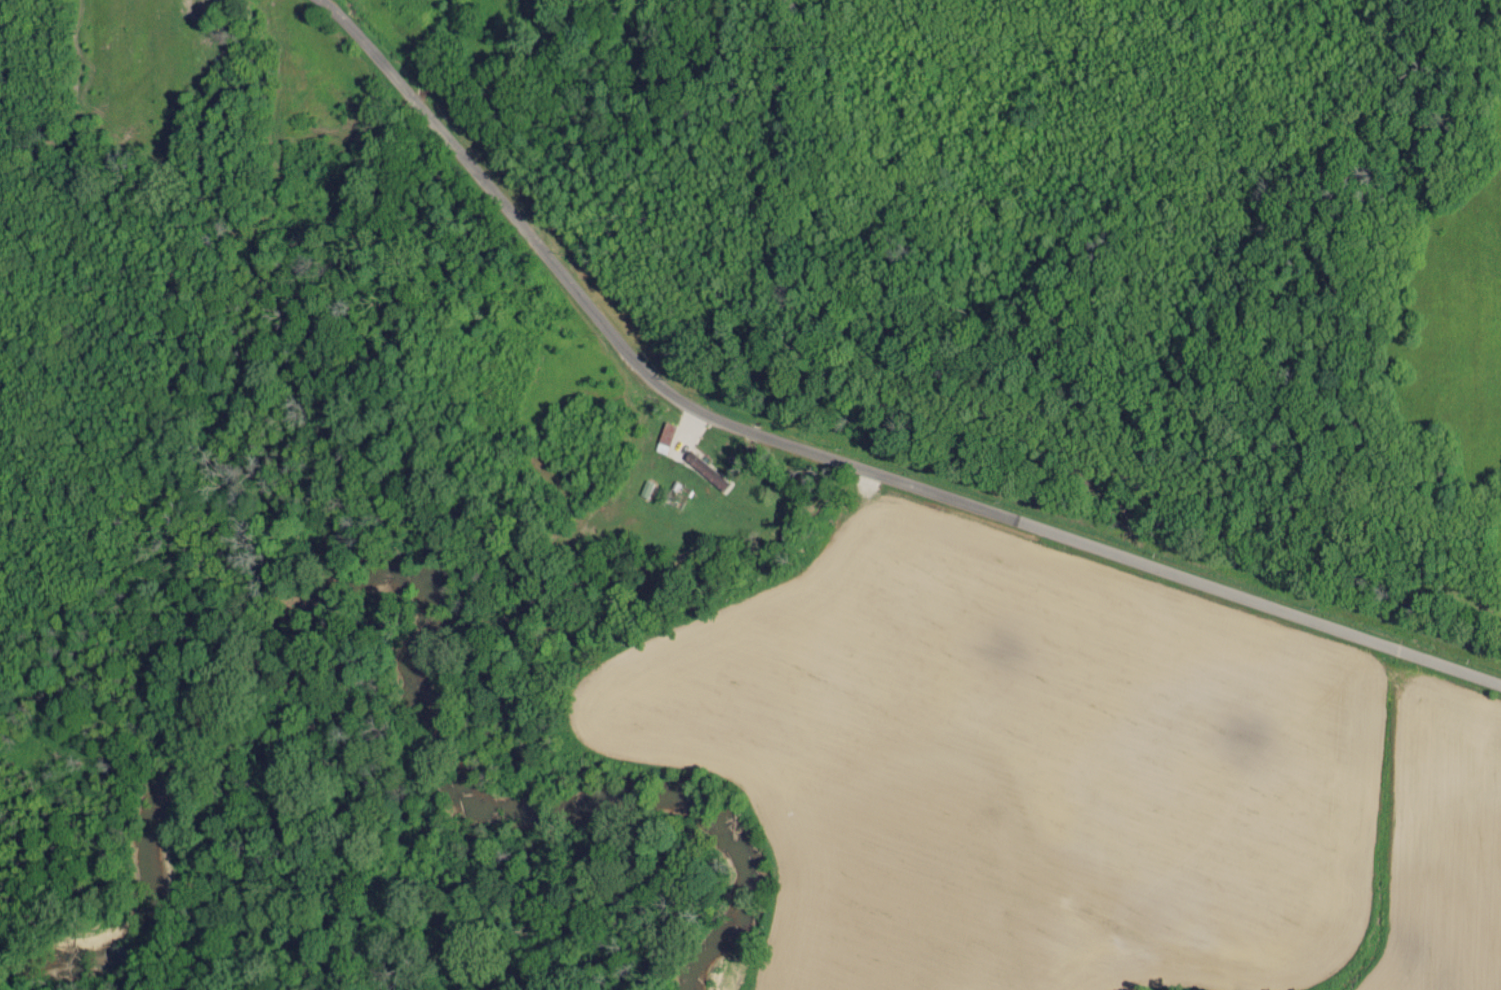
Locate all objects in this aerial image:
road: (835, 457)
river: (408, 590)

